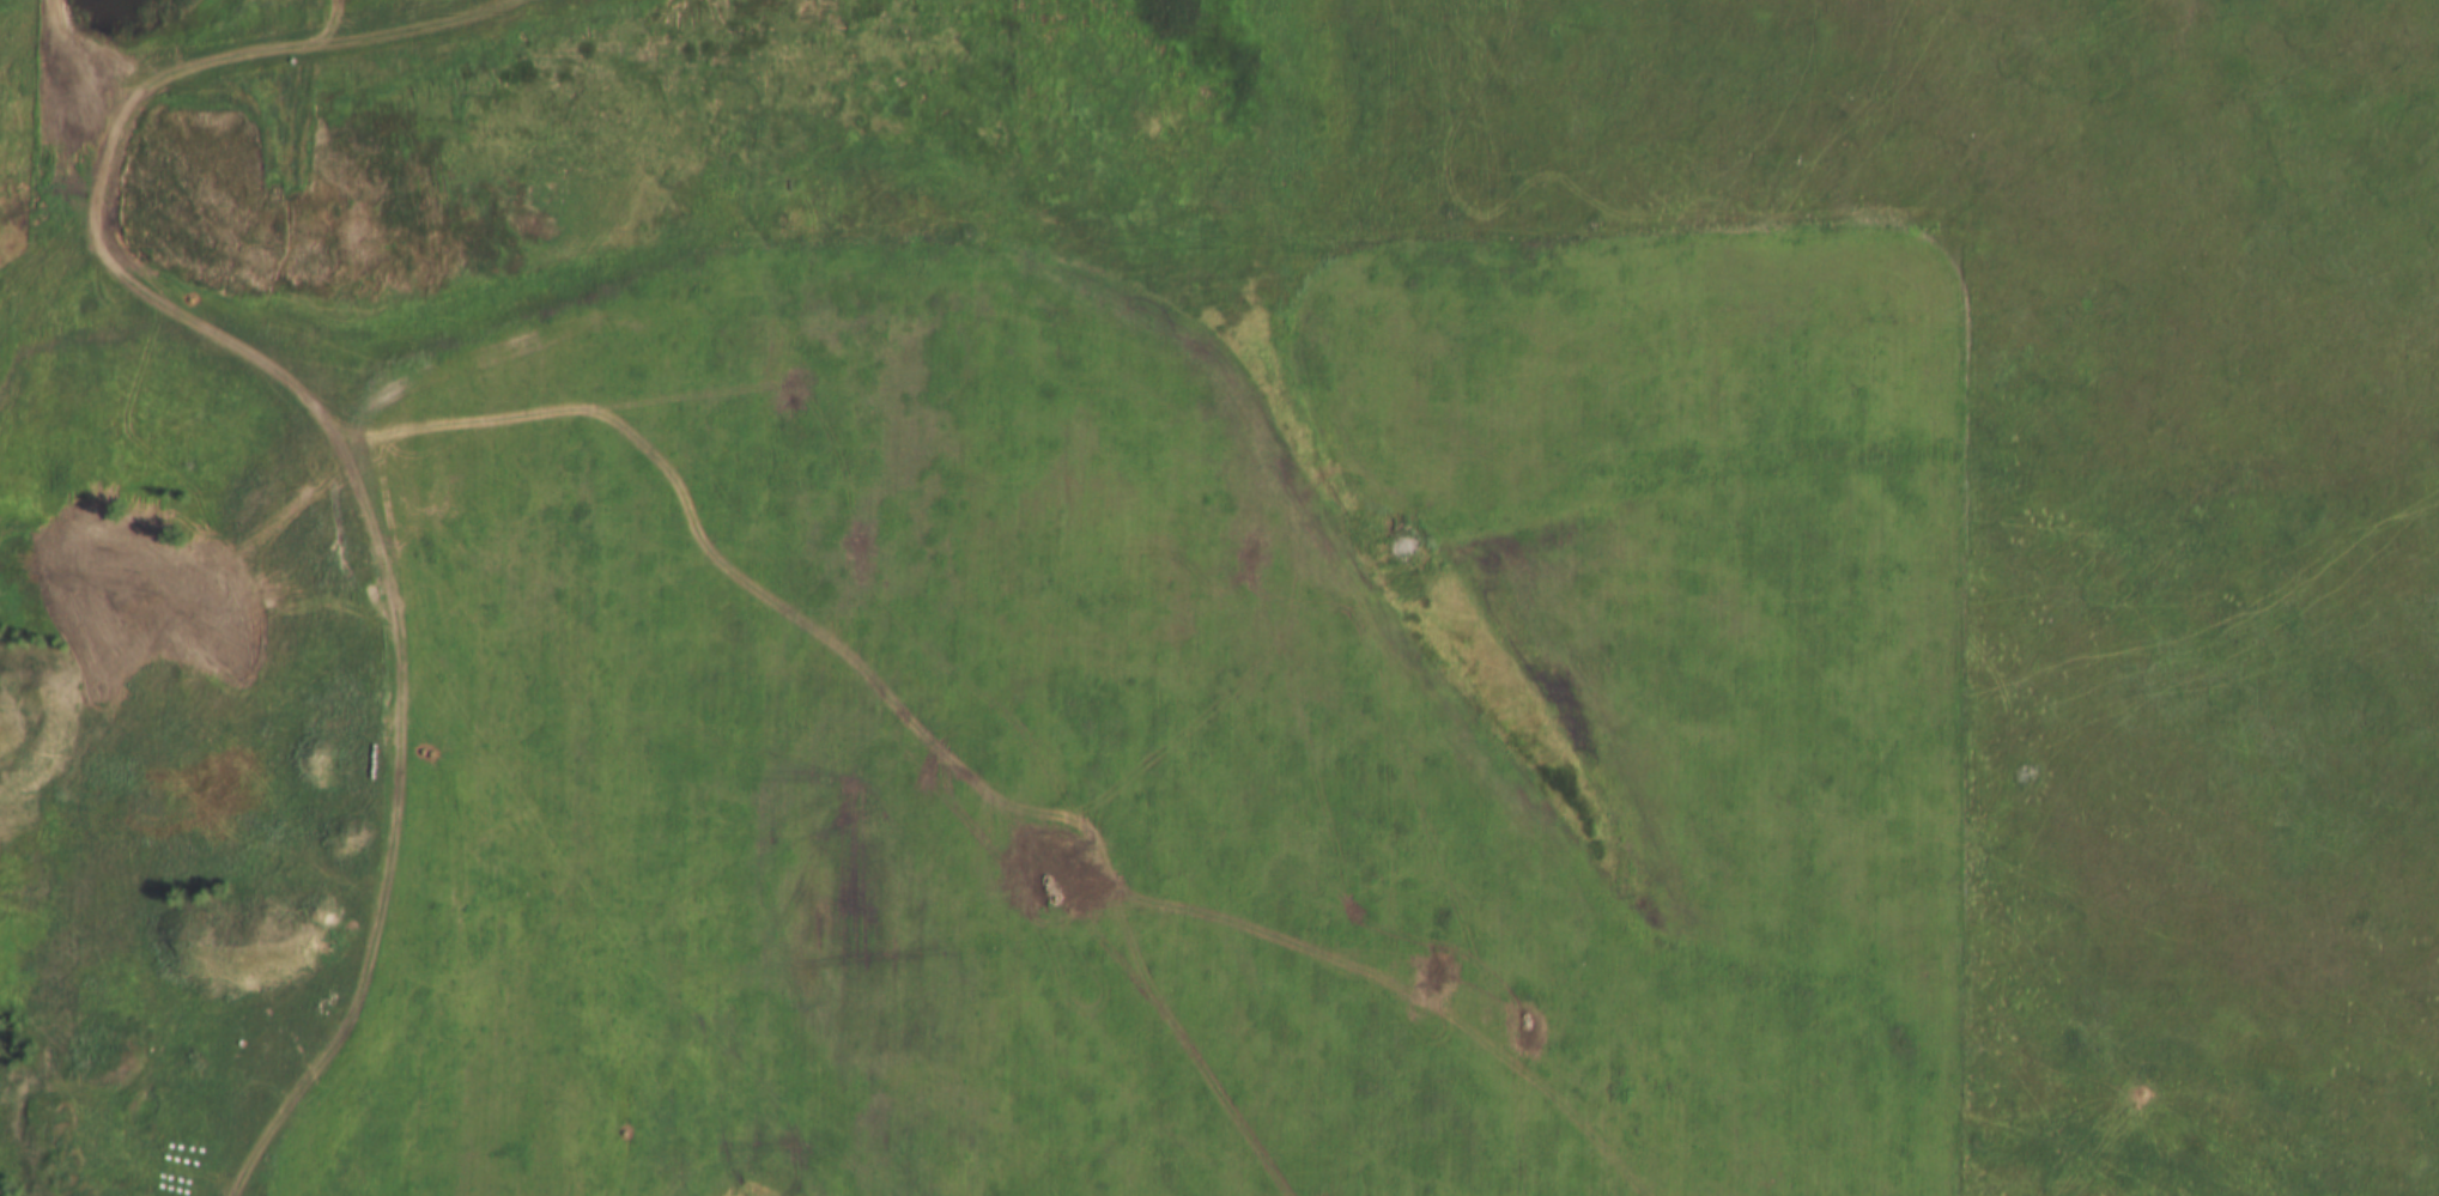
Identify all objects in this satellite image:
road: (383, 491)
quarry: (169, 836)

